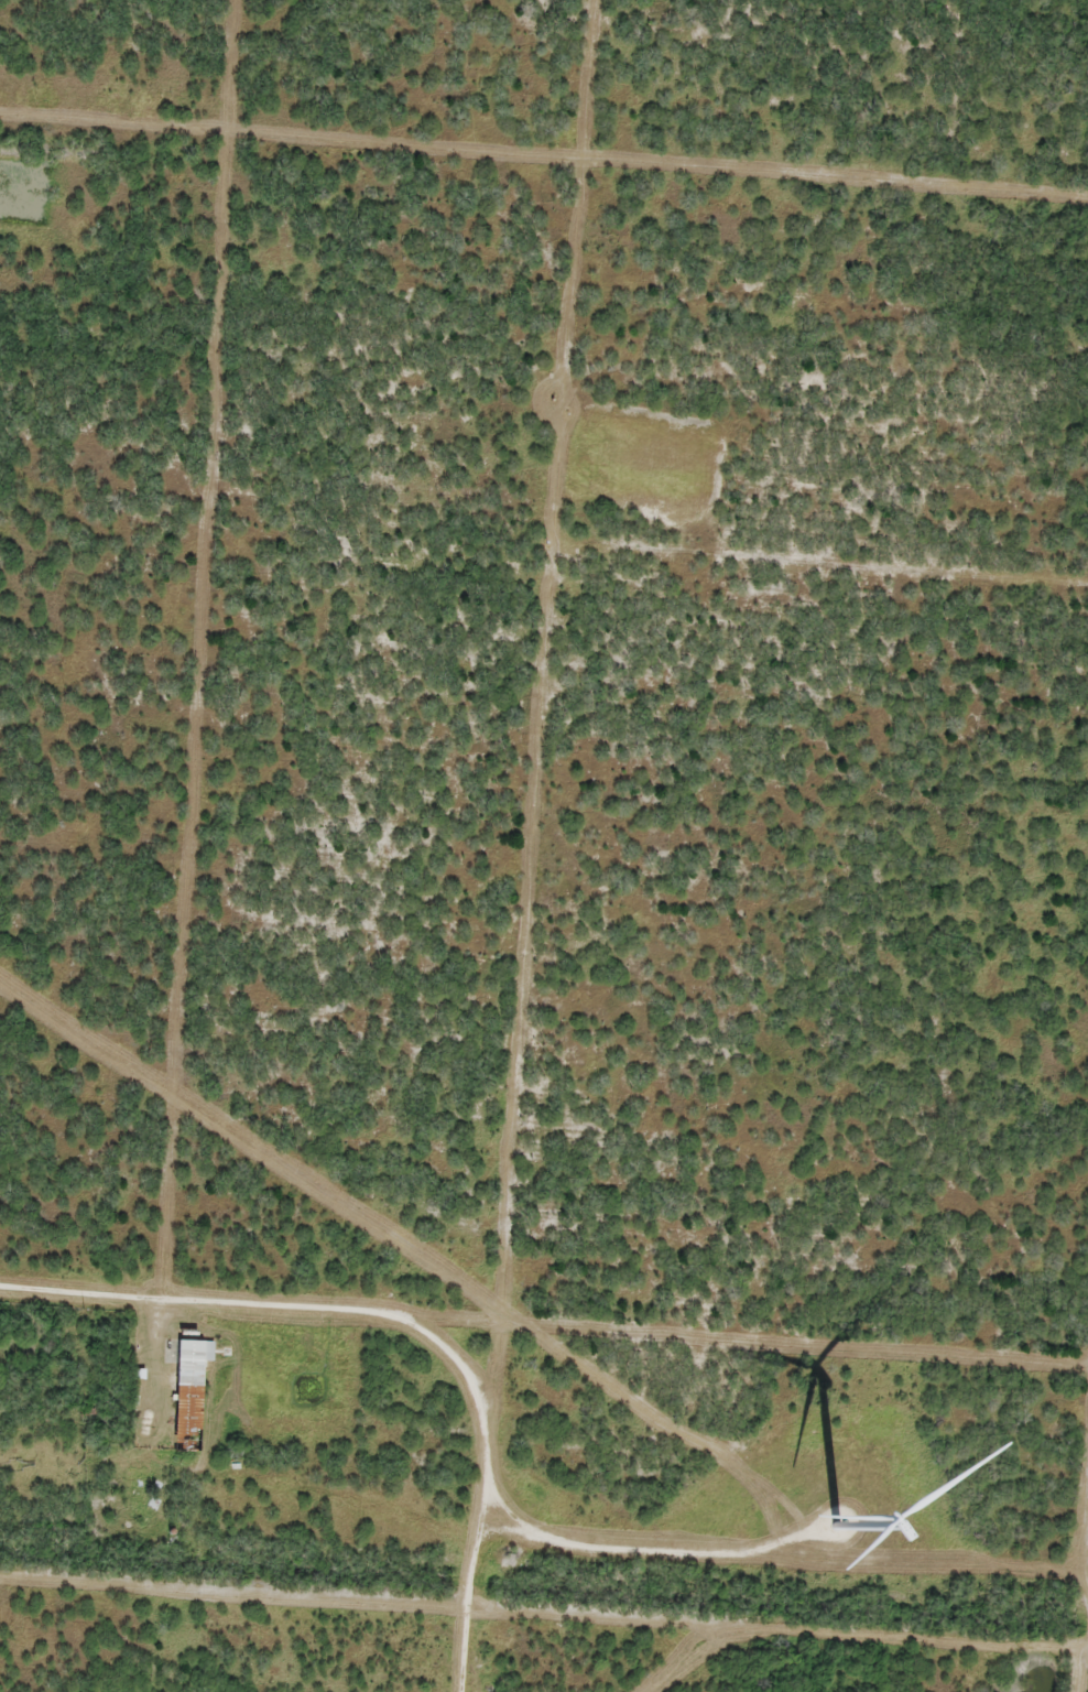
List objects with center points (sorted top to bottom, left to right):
building: (191, 1349)
building: (192, 1402)
road: (1076, 1461)
road: (544, 1510)
wind turbine: (836, 1526)

